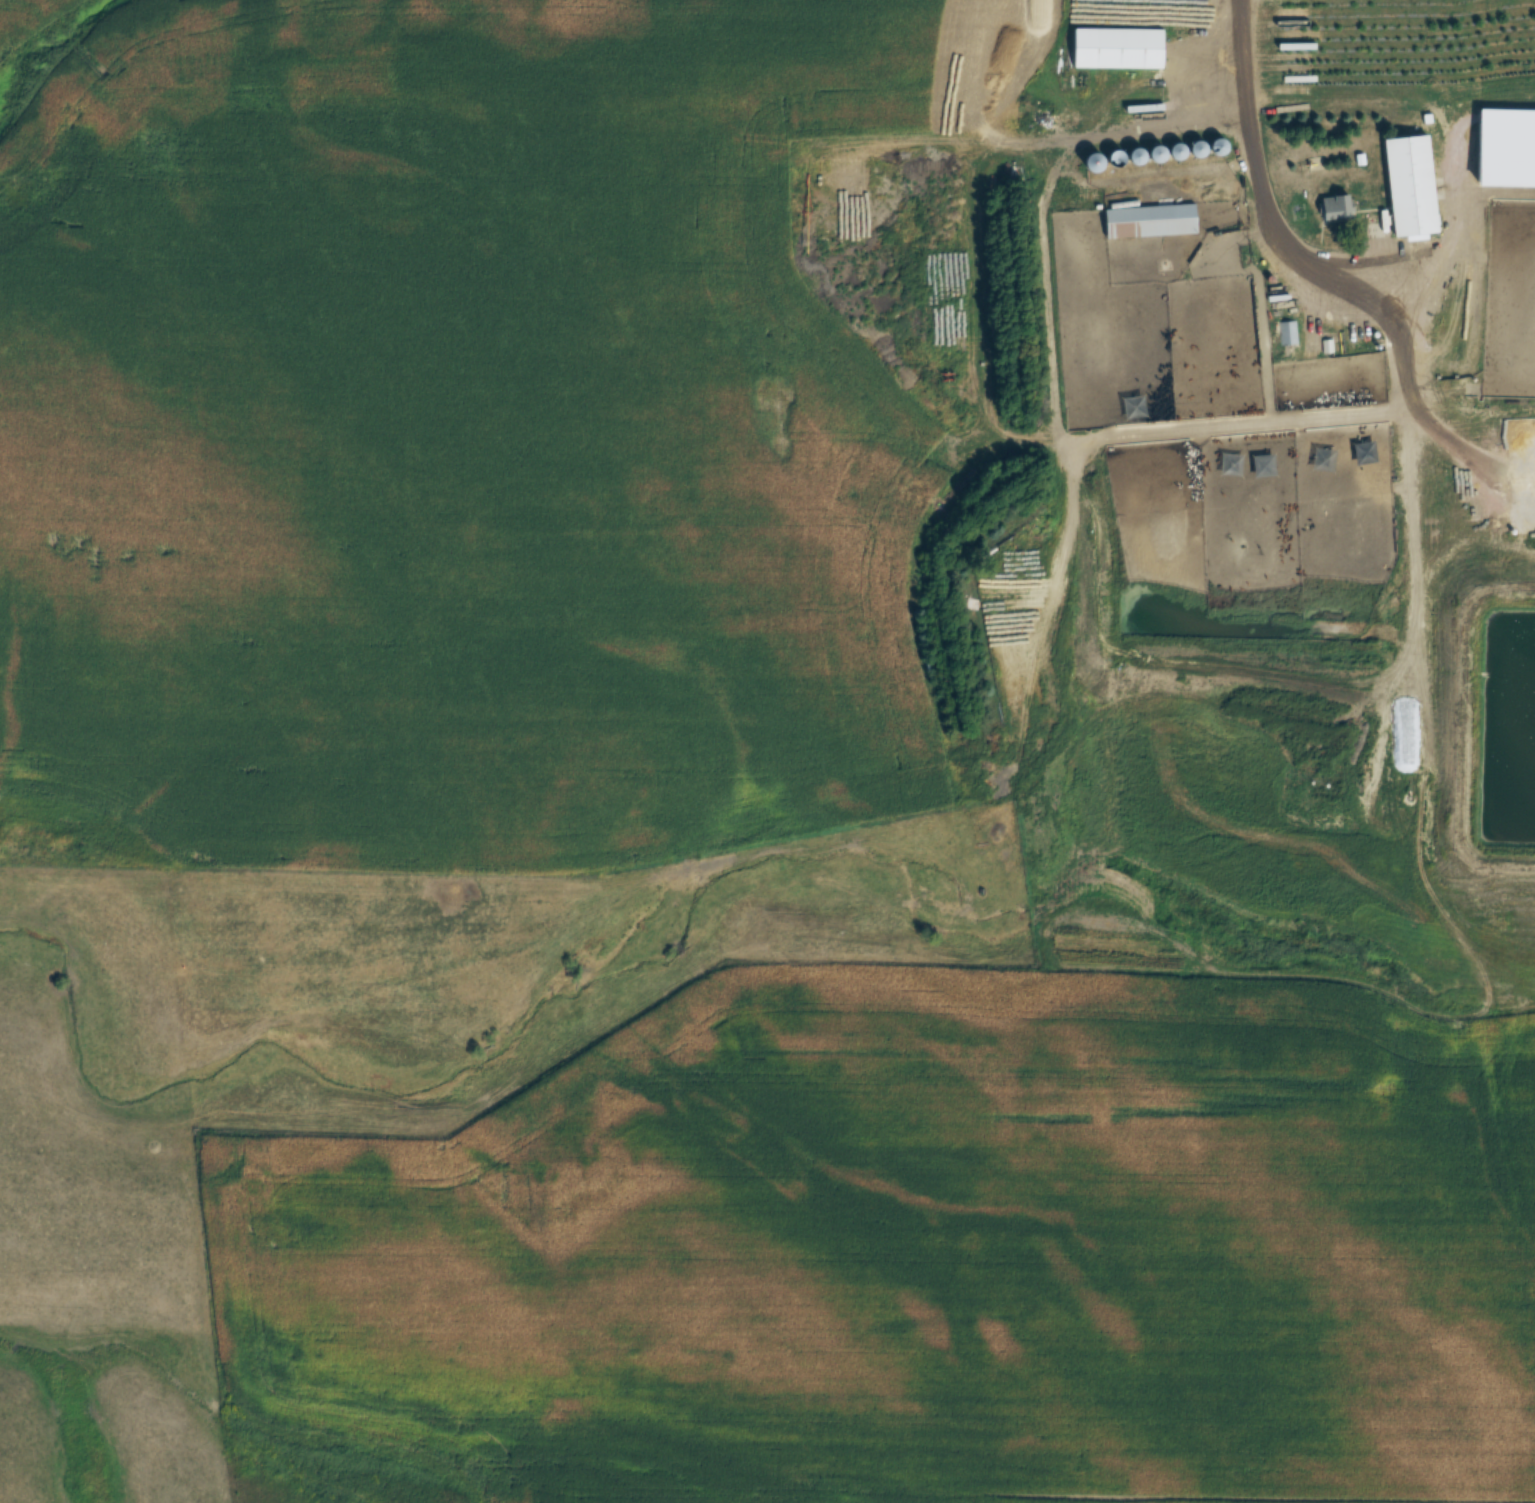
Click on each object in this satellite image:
building: (1116, 48)
road: (1258, 184)
building: (1408, 185)
building: (1334, 206)
building: (1148, 220)
building: (1400, 278)
building: (1287, 332)

